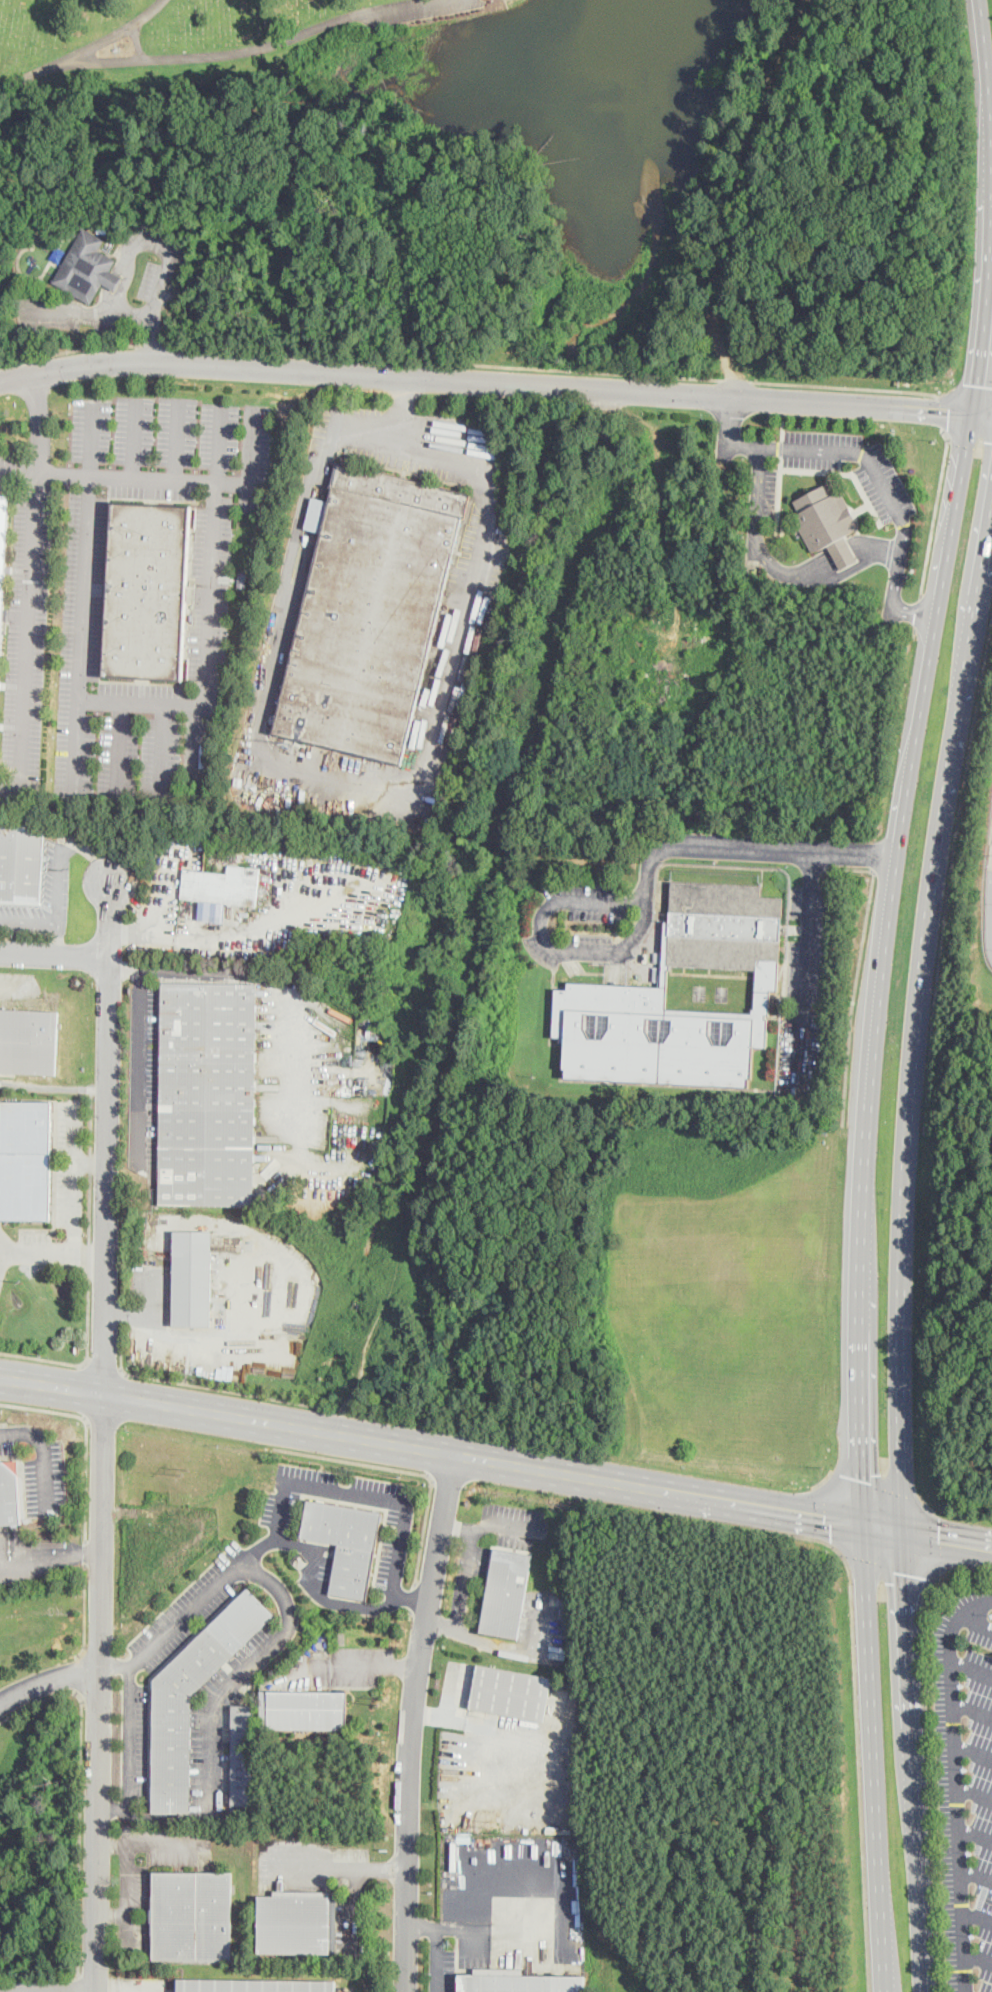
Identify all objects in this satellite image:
road: (264, 44)
road: (84, 57)
park: (371, 82)
building: (92, 224)
building: (103, 230)
building: (58, 254)
building: (86, 268)
building: (221, 289)
building: (239, 298)
building: (211, 302)
road: (99, 310)
road: (161, 310)
road: (156, 345)
road: (69, 351)
road: (560, 369)
road: (496, 380)
traffic signals: (977, 385)
road: (972, 386)
traffic signals: (949, 411)
road: (945, 413)
road: (40, 423)
road: (729, 436)
road: (968, 436)
road: (137, 441)
road: (179, 441)
road: (853, 453)
road: (182, 482)
road: (758, 485)
parking lot: (885, 490)
parking lot: (763, 493)
road: (935, 510)
building: (827, 523)
building: (3, 557)
road: (948, 558)
road: (832, 562)
road: (812, 578)
parking lot: (221, 588)
road: (895, 589)
building: (147, 592)
building: (370, 612)
building: (6, 614)
parking lot: (27, 614)
road: (29, 623)
road: (146, 703)
road: (79, 747)
road: (120, 750)
road: (162, 753)
building: (238, 780)
road: (382, 788)
road: (938, 821)
road: (717, 844)
road: (83, 846)
road: (876, 862)
building: (21, 863)
road: (950, 878)
building: (223, 886)
road: (542, 914)
road: (44, 921)
road: (130, 930)
road: (210, 933)
road: (53, 953)
road: (123, 962)
road: (807, 965)
road: (857, 973)
building: (592, 985)
road: (281, 992)
building: (29, 1042)
road: (140, 1060)
parking lot: (144, 1076)
building: (207, 1094)
building: (26, 1158)
road: (306, 1168)
building: (192, 1279)
power tower: (22, 1281)
road: (140, 1317)
road: (863, 1320)
road: (89, 1330)
road: (897, 1335)
road: (104, 1366)
road: (144, 1377)
road: (433, 1449)
road: (44, 1452)
parking lot: (39, 1468)
power tower: (186, 1470)
road: (406, 1471)
road: (102, 1473)
traffic signals: (865, 1478)
road: (873, 1482)
parking lot: (326, 1492)
building: (10, 1494)
road: (831, 1509)
traffic signals: (824, 1520)
road: (457, 1527)
road: (883, 1529)
traffic signals: (939, 1539)
road: (945, 1540)
road: (937, 1542)
building: (346, 1543)
road: (469, 1545)
parking lot: (393, 1551)
road: (251, 1558)
parking lot: (473, 1561)
road: (85, 1570)
parking lot: (325, 1574)
traffic signals: (902, 1575)
road: (891, 1577)
road: (319, 1590)
building: (506, 1594)
road: (412, 1596)
road: (411, 1598)
road: (409, 1614)
parking lot: (186, 1615)
road: (975, 1619)
road: (479, 1641)
road: (253, 1663)
road: (376, 1665)
road: (117, 1666)
road: (972, 1671)
road: (48, 1678)
building: (511, 1693)
power tower: (382, 1700)
road: (40, 1702)
building: (304, 1710)
road: (973, 1710)
road: (411, 1721)
parking lot: (135, 1746)
road: (857, 1746)
road: (974, 1750)
road: (928, 1751)
building: (171, 1755)
building: (242, 1756)
road: (872, 1759)
road: (911, 1762)
parking lot: (963, 1781)
road: (956, 1782)
road: (974, 1796)
road: (115, 1809)
power tower: (486, 1821)
road: (975, 1834)
road: (340, 1865)
road: (976, 1874)
building: (192, 1916)
road: (977, 1916)
building: (294, 1923)
road: (498, 1927)
road: (439, 1941)
road: (978, 1956)
building: (518, 1982)
building: (256, 1986)

